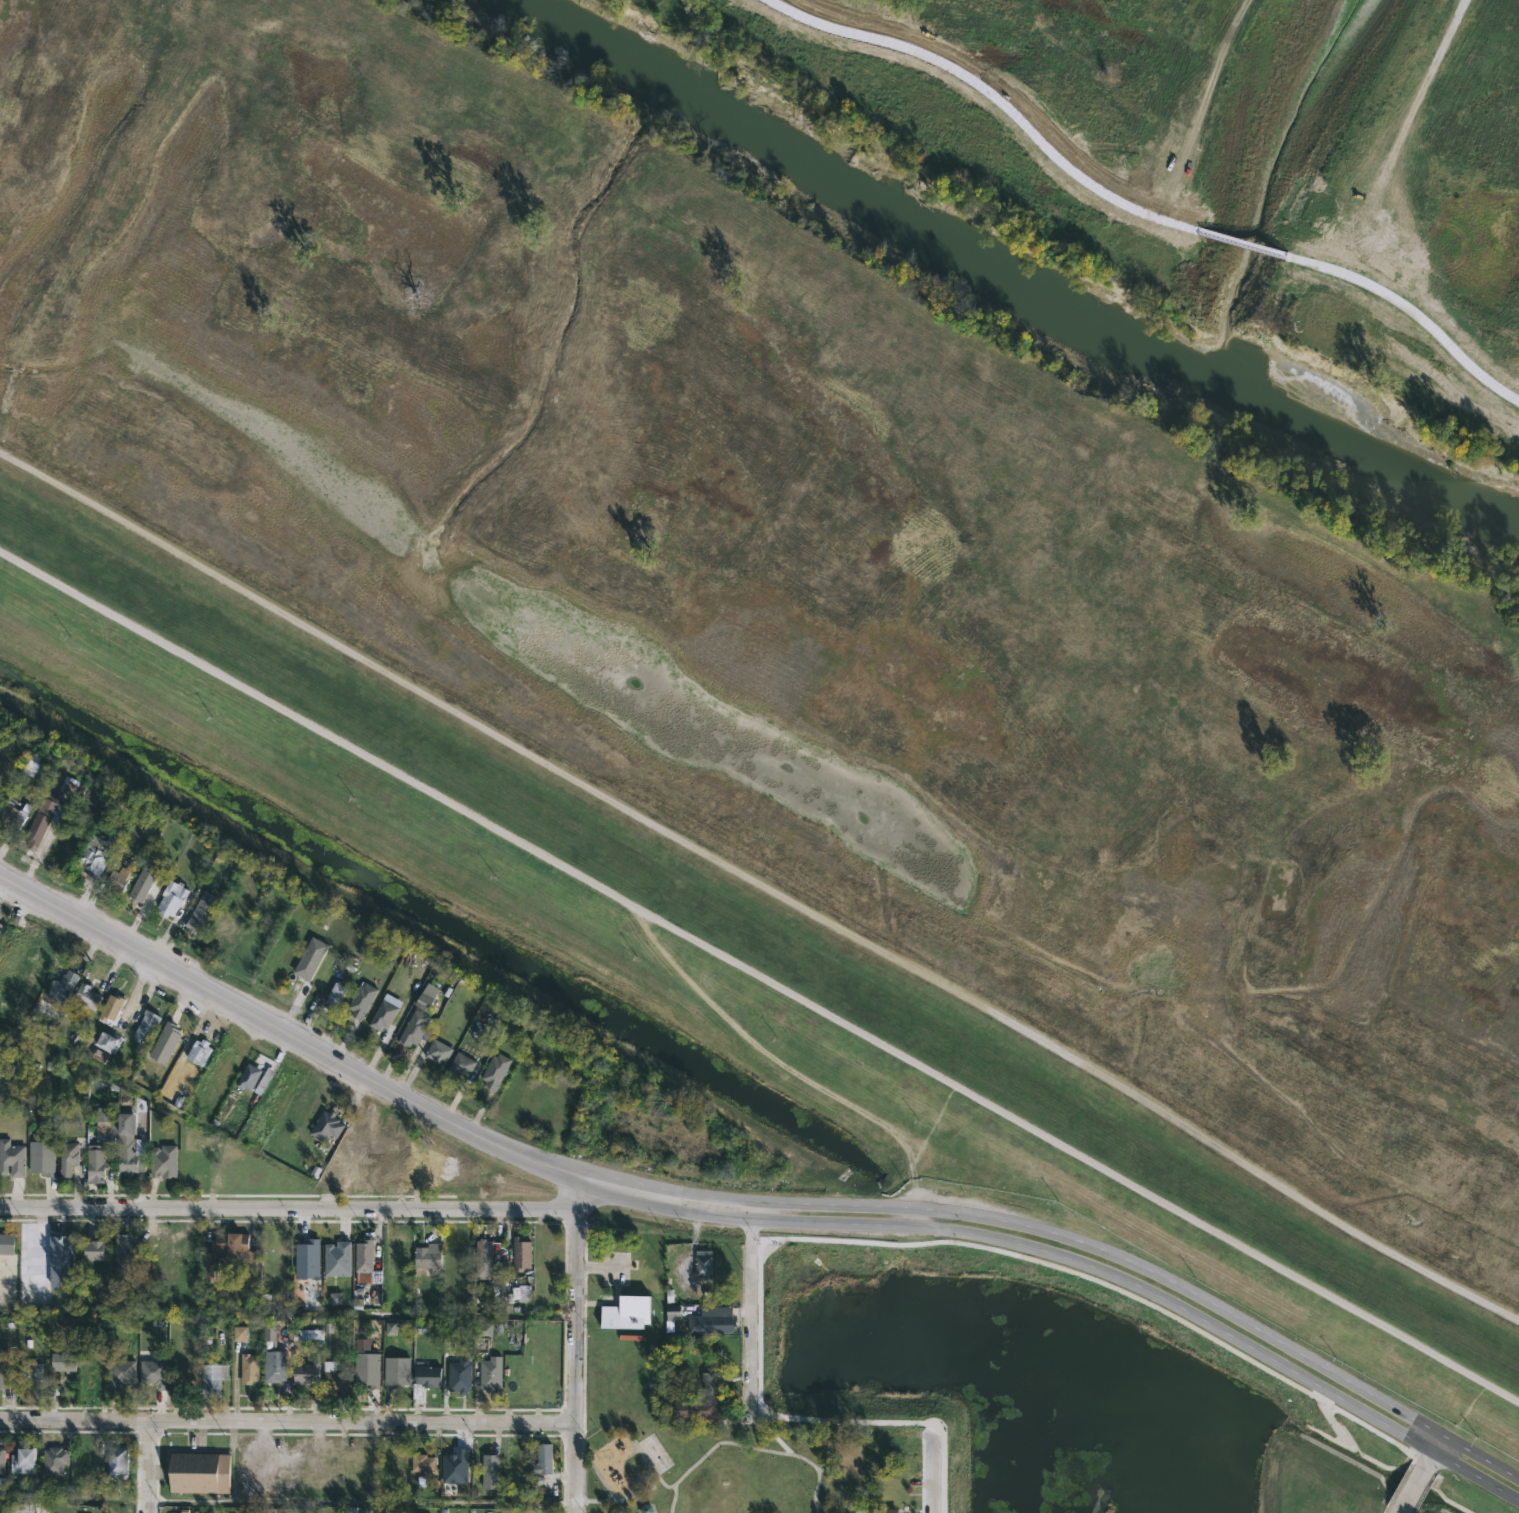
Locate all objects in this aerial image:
river: (1016, 290)
park: (841, 563)
building: (68, 785)
building: (12, 816)
building: (42, 830)
building: (88, 857)
building: (117, 880)
road: (761, 883)
building: (139, 890)
building: (171, 898)
building: (199, 914)
building: (0, 924)
building: (0, 929)
building: (309, 955)
road: (759, 974)
building: (61, 987)
building: (335, 995)
building: (427, 996)
building: (85, 997)
building: (361, 1001)
building: (110, 1008)
building: (385, 1012)
building: (145, 1026)
building: (414, 1029)
road: (283, 1031)
building: (109, 1043)
building: (165, 1043)
building: (198, 1051)
building: (438, 1052)
road: (777, 1064)
building: (462, 1065)
building: (495, 1072)
building: (247, 1076)
building: (124, 1095)
building: (104, 1126)
building: (326, 1127)
building: (128, 1153)
building: (10, 1155)
building: (67, 1156)
building: (41, 1158)
building: (95, 1161)
building: (162, 1161)
road: (630, 1181)
road: (624, 1195)
road: (797, 1201)
road: (287, 1208)
road: (792, 1221)
building: (6, 1242)
building: (159, 1245)
building: (125, 1248)
building: (92, 1250)
building: (228, 1252)
building: (549, 1252)
building: (521, 1253)
building: (364, 1254)
building: (428, 1254)
building: (484, 1258)
building: (61, 1259)
building: (305, 1259)
building: (336, 1259)
building: (703, 1264)
building: (362, 1276)
building: (520, 1292)
building: (335, 1297)
road: (749, 1309)
building: (627, 1311)
road: (1227, 1312)
building: (673, 1315)
building: (713, 1319)
building: (390, 1328)
building: (484, 1329)
building: (269, 1331)
road: (1226, 1332)
building: (240, 1333)
road: (576, 1343)
building: (62, 1361)
building: (4, 1365)
building: (274, 1365)
building: (249, 1367)
building: (367, 1368)
building: (397, 1371)
building: (30, 1372)
building: (306, 1372)
building: (491, 1372)
building: (121, 1374)
building: (152, 1374)
building: (459, 1375)
building: (91, 1377)
building: (335, 1377)
building: (212, 1378)
building: (425, 1378)
building: (711, 1381)
building: (700, 1410)
road: (288, 1421)
park: (653, 1451)
building: (2, 1459)
building: (22, 1459)
building: (456, 1459)
building: (543, 1459)
building: (54, 1460)
building: (117, 1462)
building: (423, 1462)
building: (400, 1464)
park: (711, 1465)
road: (150, 1467)
road: (932, 1467)
building: (491, 1471)
building: (199, 1472)
road: (1418, 1474)
road: (363, 1502)
building: (646, 1507)
building: (19, 1508)
building: (883, 1510)

